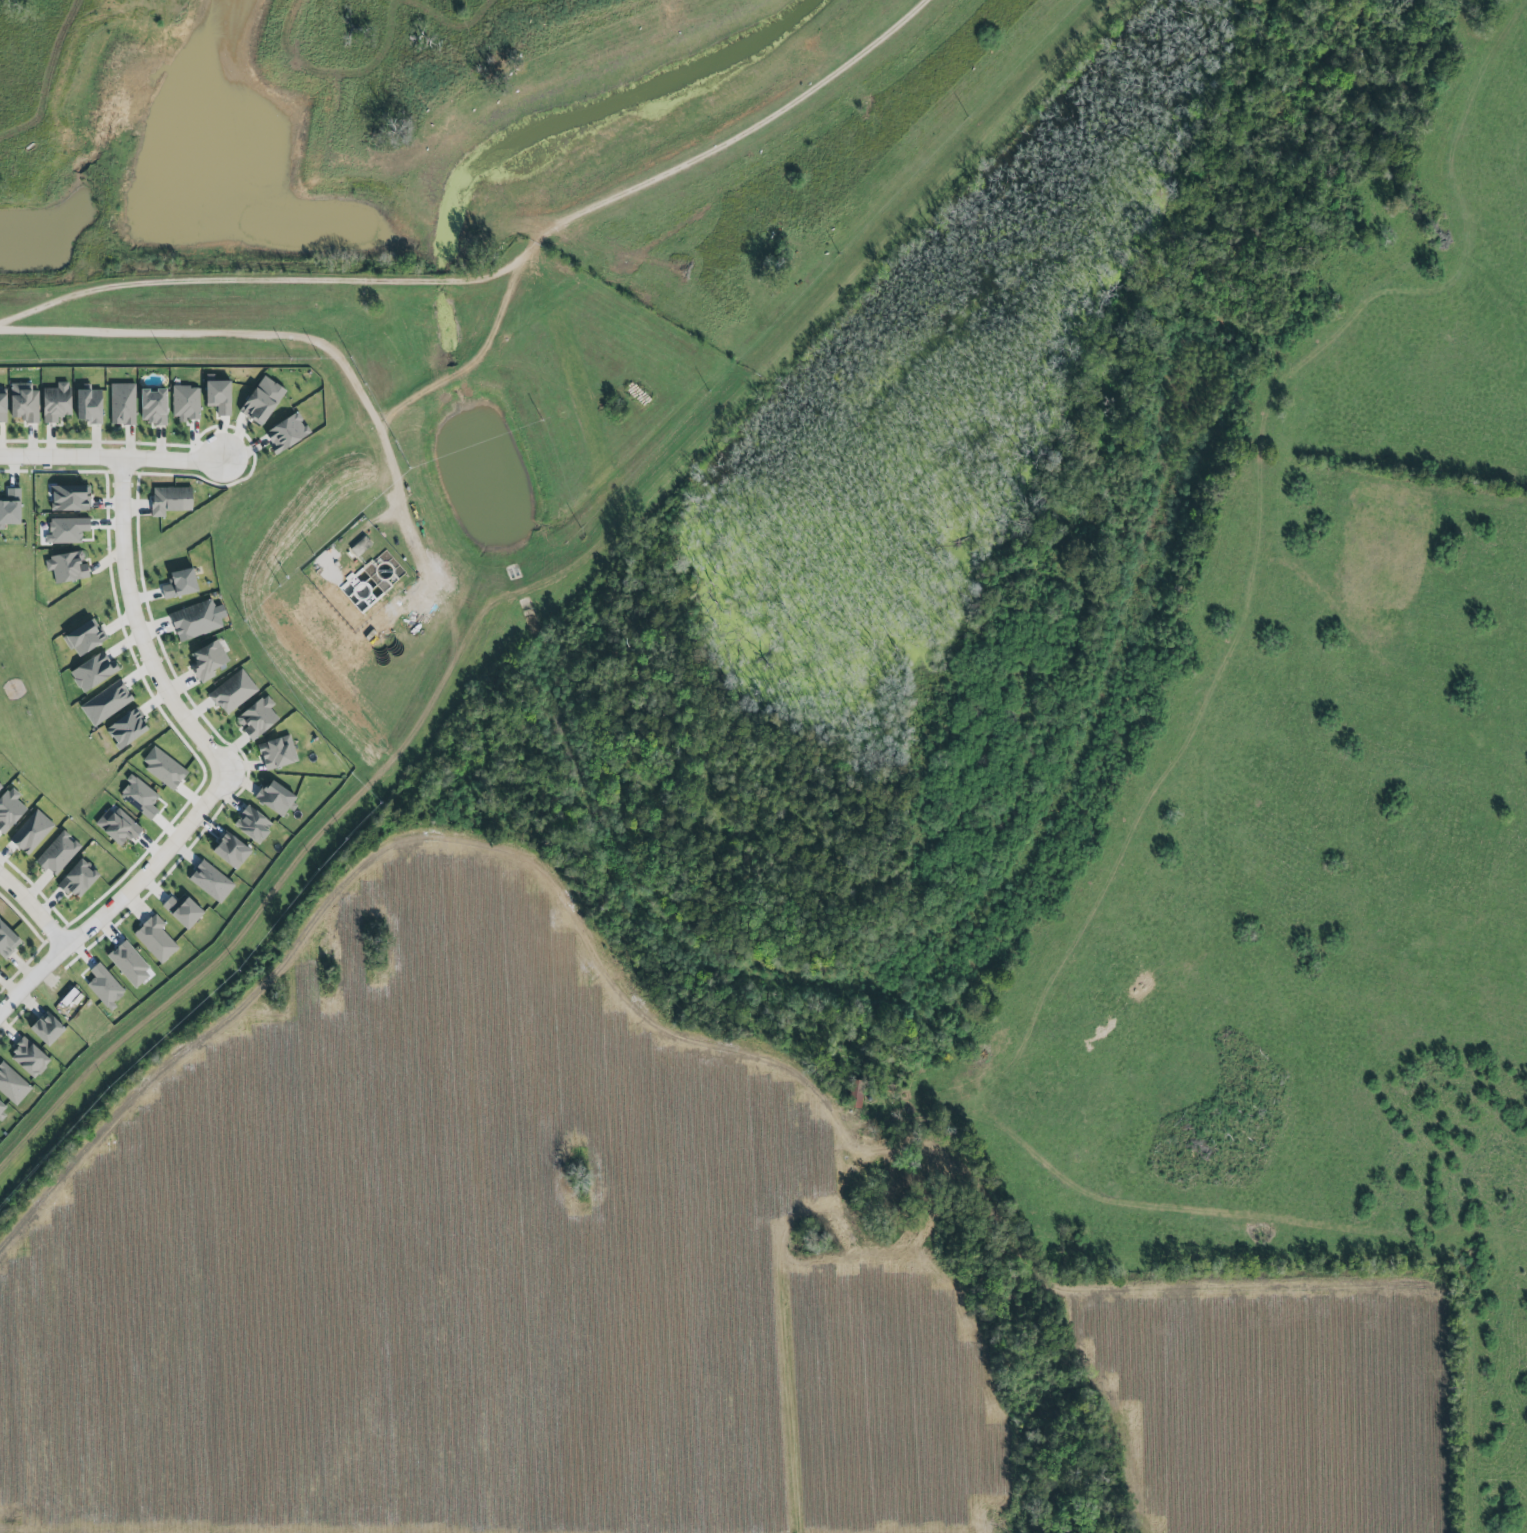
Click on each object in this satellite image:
road: (79, 84)
road: (287, 339)
building: (217, 396)
building: (261, 401)
building: (122, 402)
building: (23, 403)
building: (55, 403)
building: (89, 404)
building: (185, 404)
building: (2, 406)
building: (152, 406)
building: (285, 433)
road: (112, 459)
building: (69, 498)
building: (169, 500)
building: (9, 508)
building: (67, 530)
building: (360, 546)
building: (66, 568)
building: (178, 582)
building: (194, 620)
building: (82, 636)
building: (207, 660)
building: (91, 671)
building: (233, 692)
building: (105, 702)
building: (257, 716)
building: (125, 728)
building: (276, 752)
building: (162, 767)
road: (219, 769)
building: (0, 786)
building: (275, 797)
building: (139, 798)
building: (9, 808)
building: (251, 824)
building: (117, 825)
building: (31, 832)
building: (229, 850)
building: (57, 853)
building: (77, 878)
building: (210, 881)
road: (315, 887)
road: (34, 908)
building: (181, 911)
building: (7, 937)
building: (154, 938)
building: (128, 964)
building: (103, 986)
building: (71, 997)
building: (45, 1028)
building: (30, 1054)
building: (12, 1083)
building: (2, 1108)

